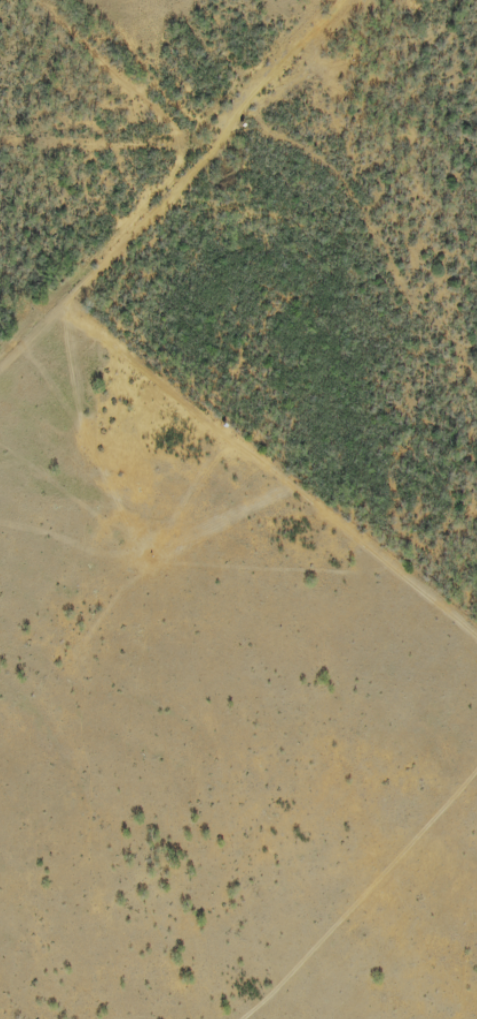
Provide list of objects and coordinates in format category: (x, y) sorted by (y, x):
road: (332, 74)

